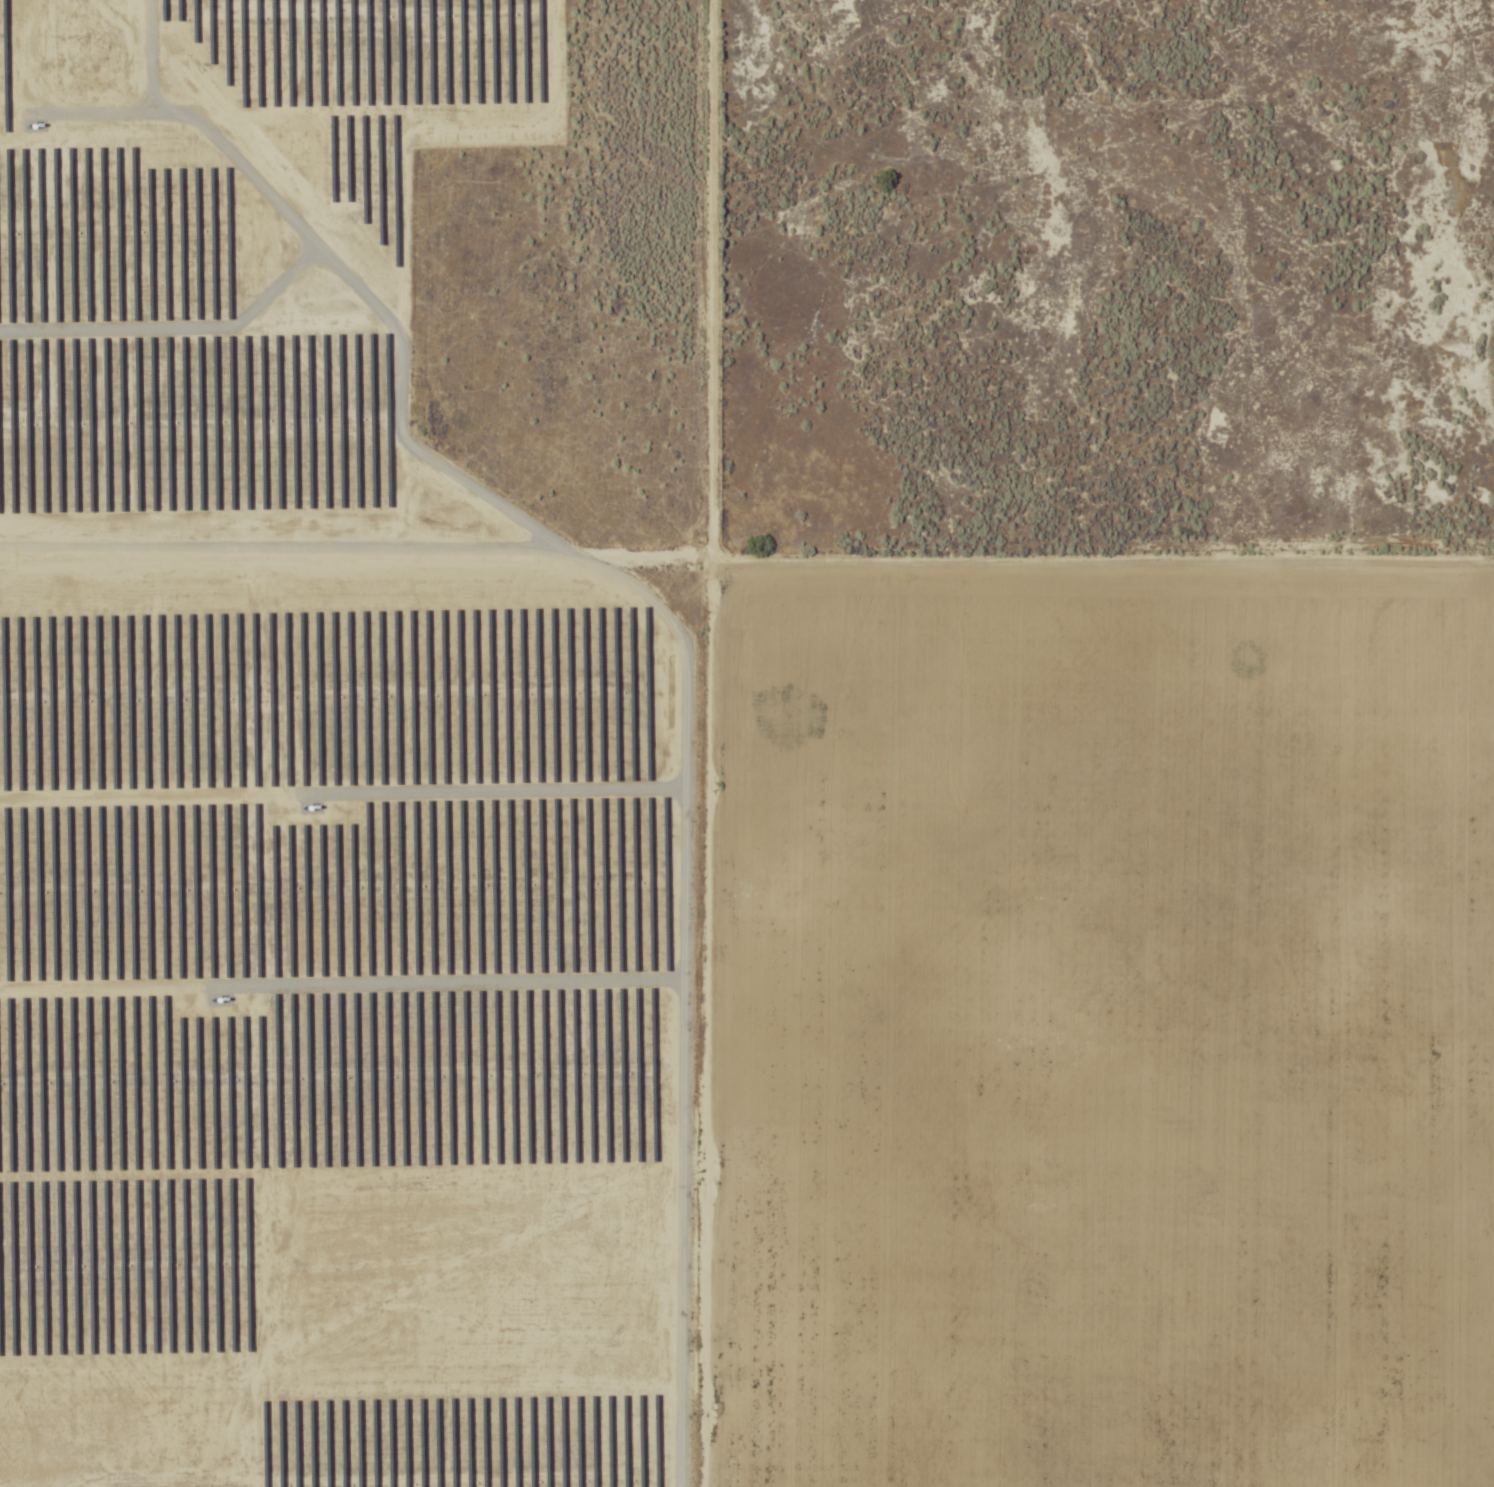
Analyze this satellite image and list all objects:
road: (654, 684)
solar farm: (327, 790)
road: (1088, 1002)
crop: (1101, 1023)

